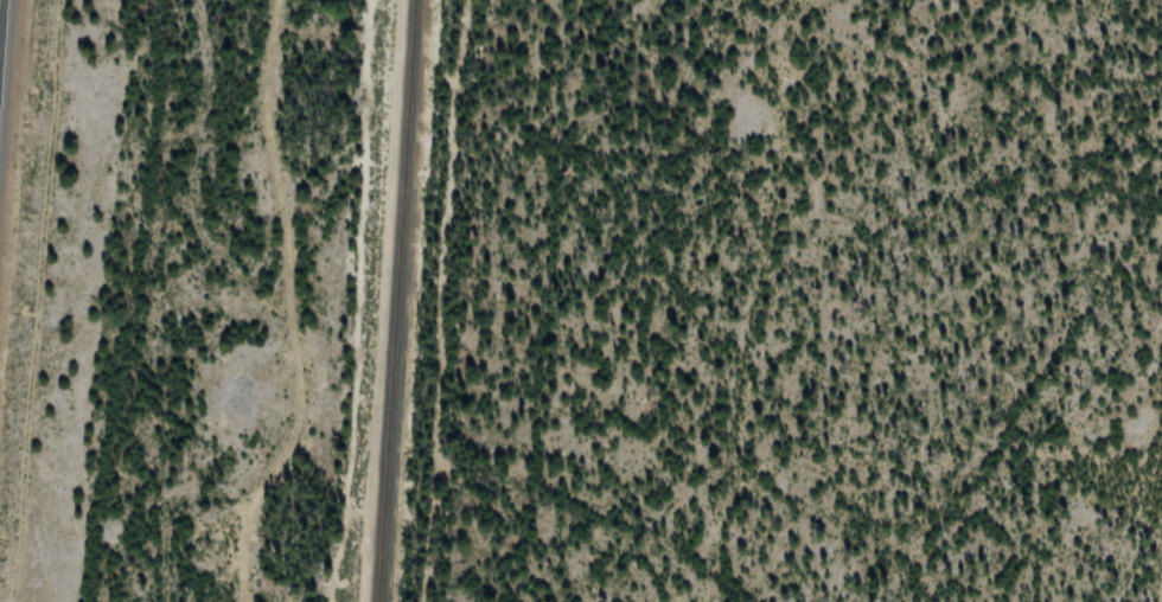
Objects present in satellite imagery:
railway: (394, 300)

